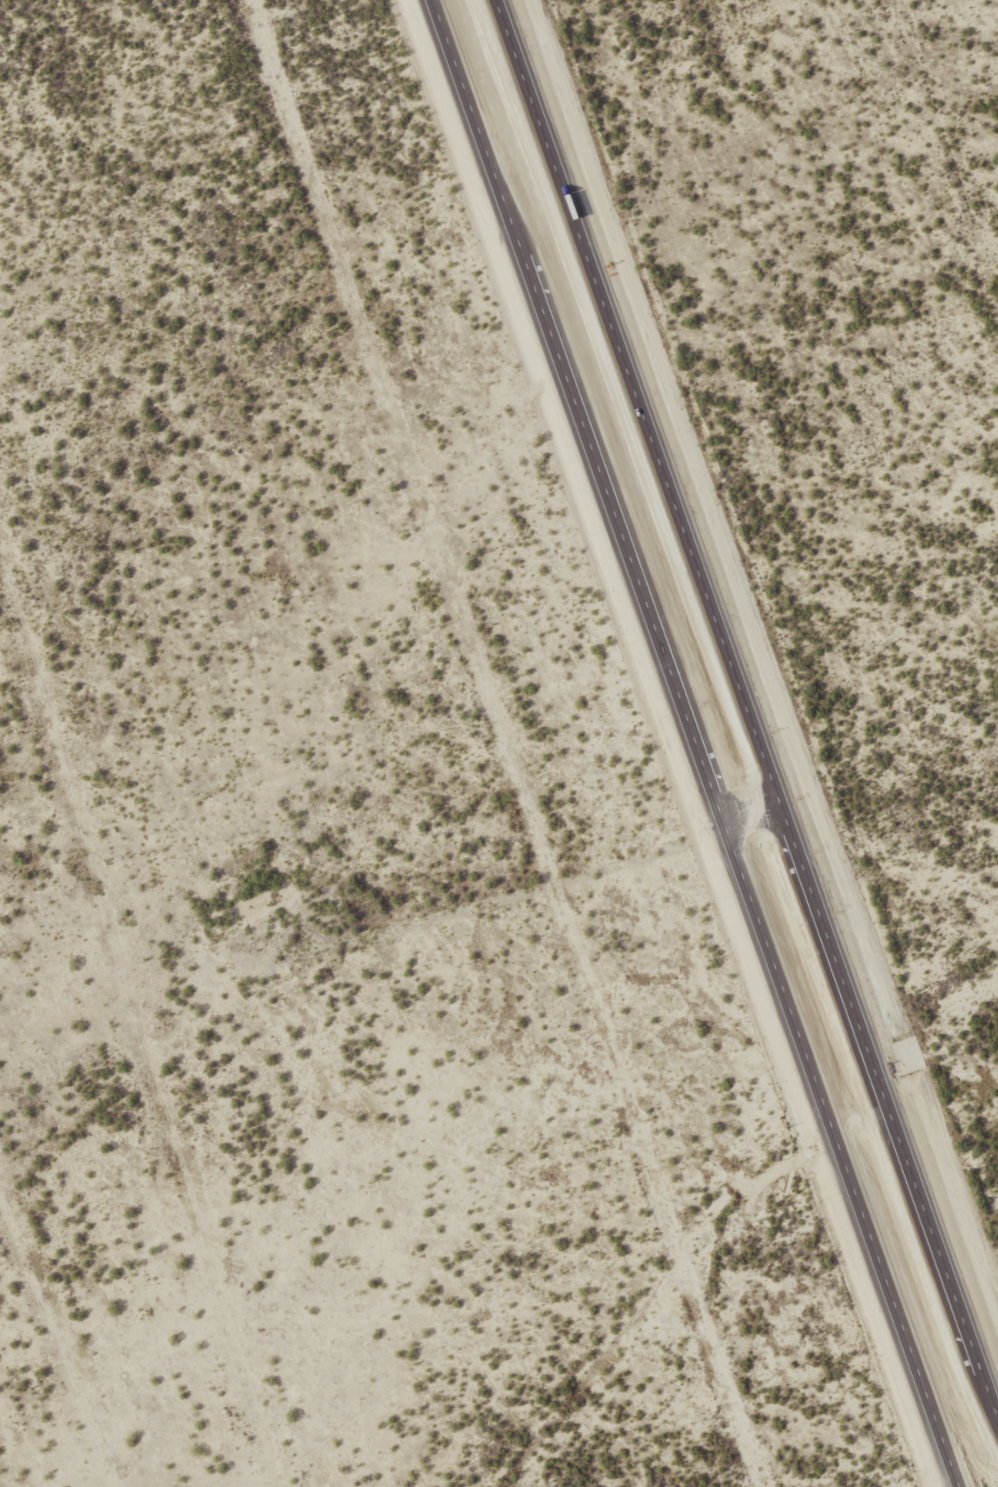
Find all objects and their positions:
road: (747, 706)

